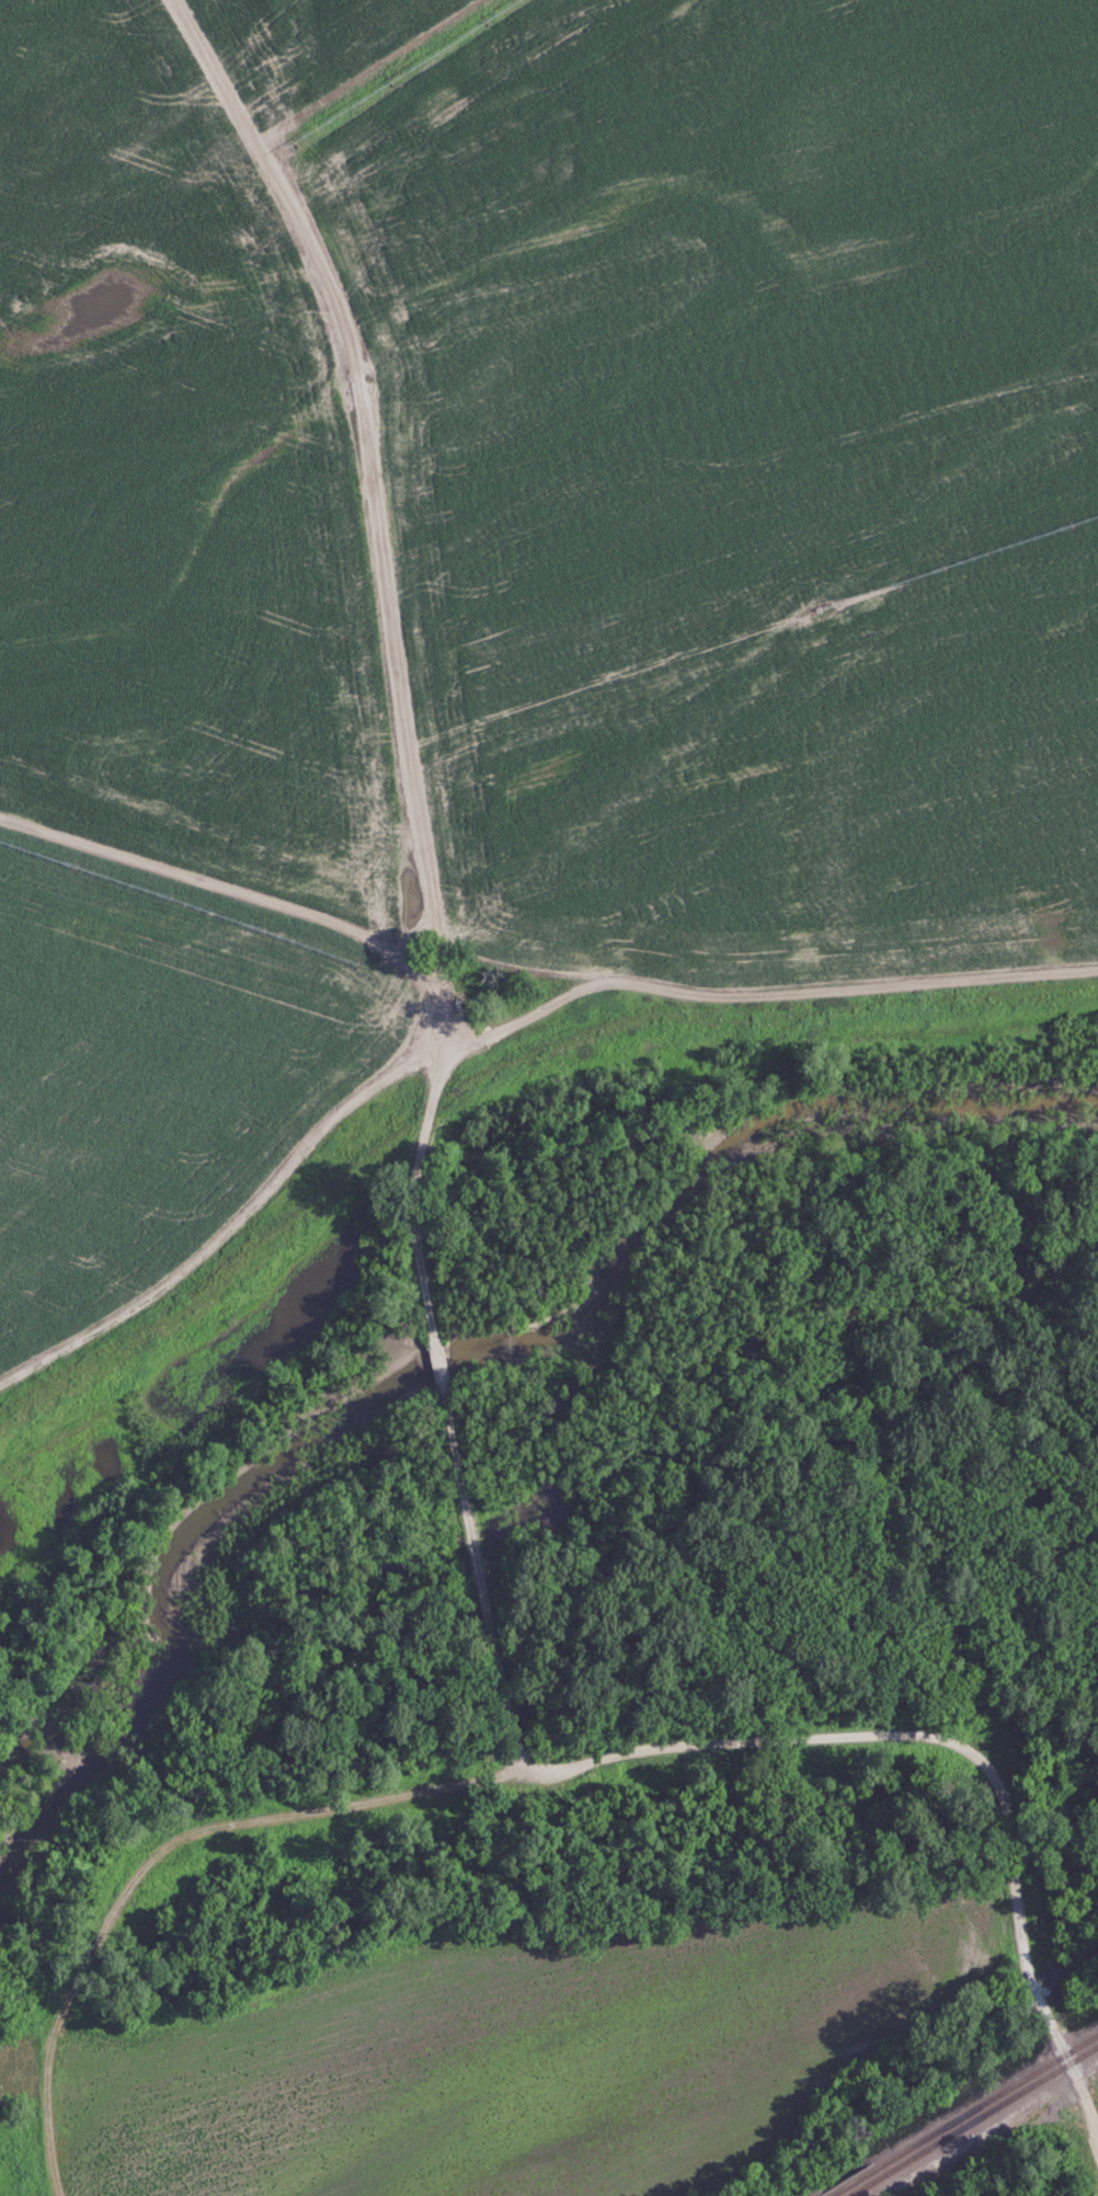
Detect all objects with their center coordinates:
road: (1046, 2015)
railway: (965, 2115)
railway: (975, 2121)
road: (992, 2141)

